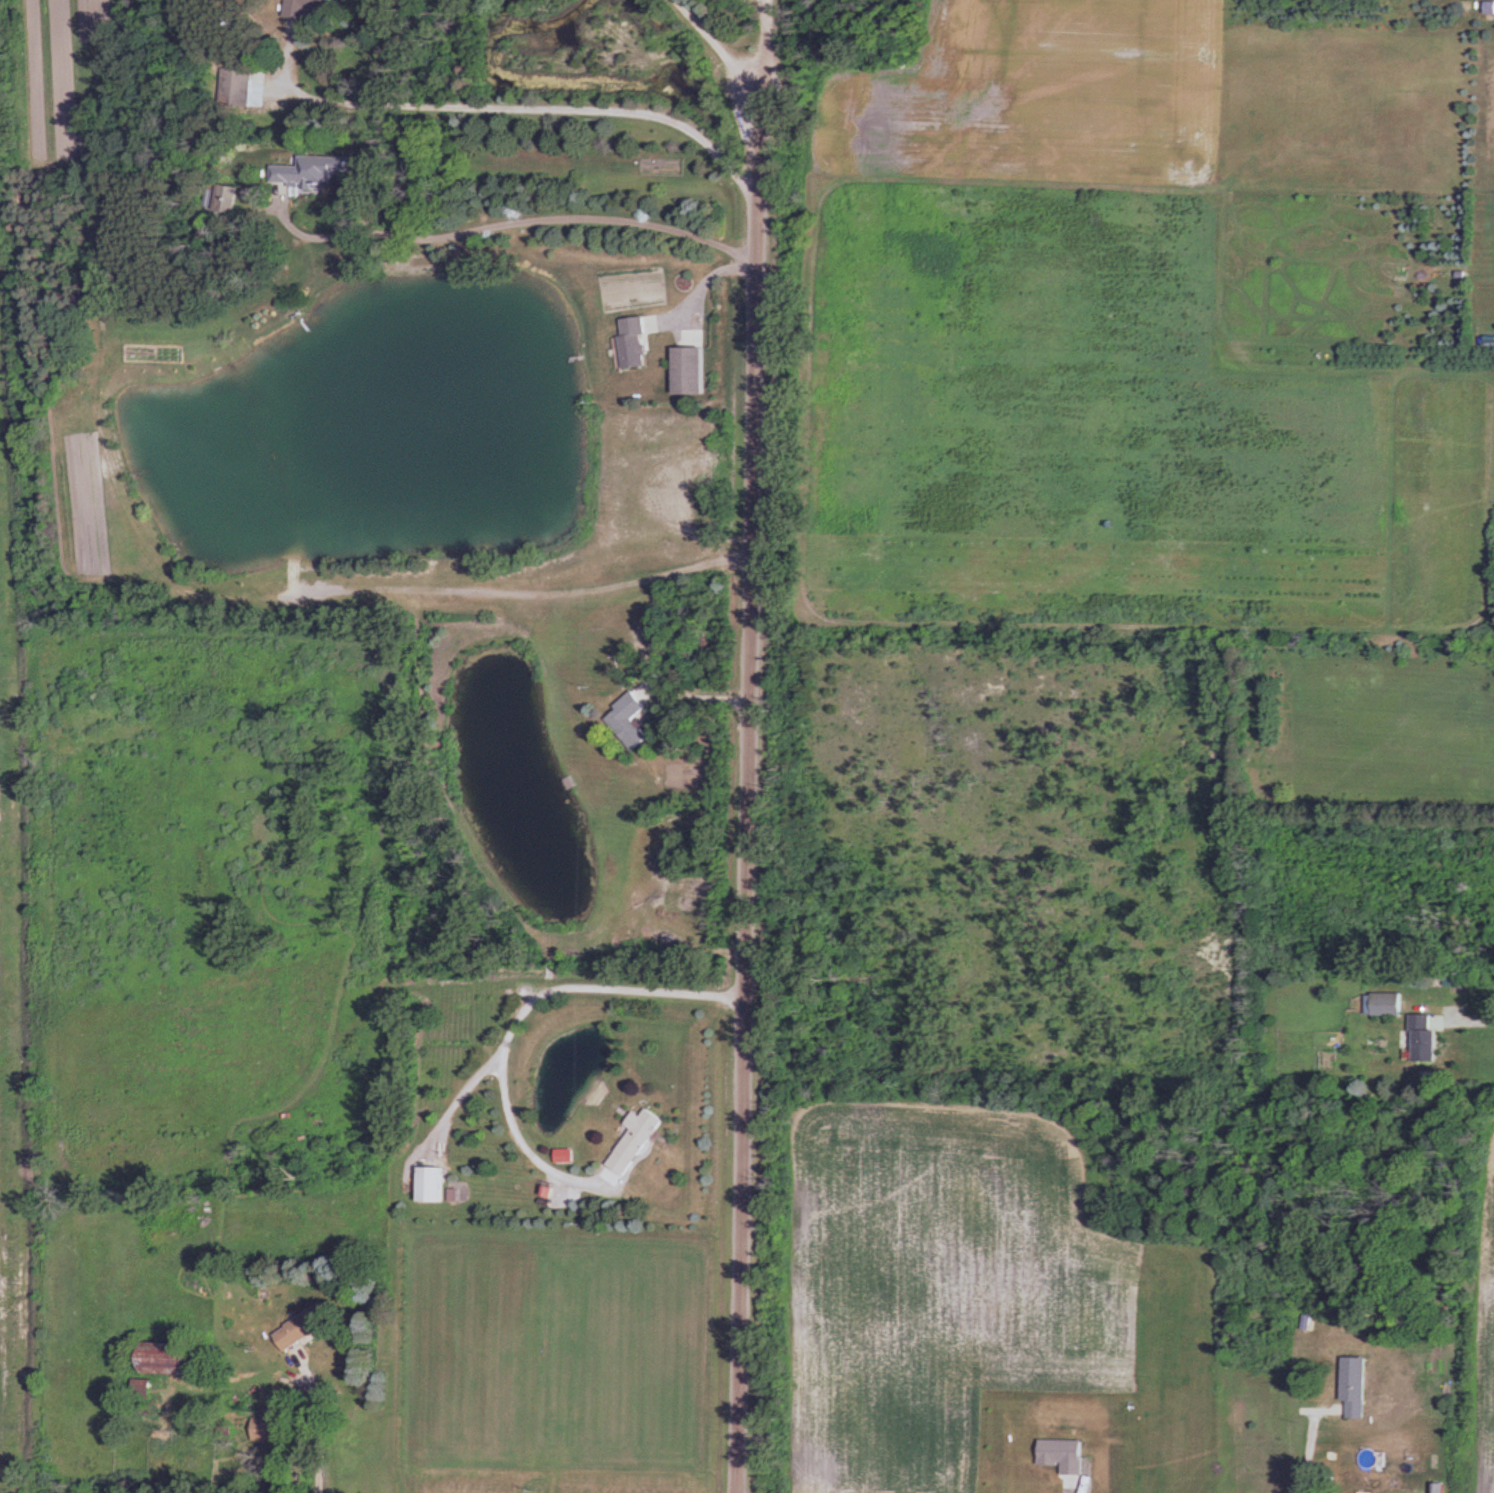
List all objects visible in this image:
building: (316, 4)
road: (716, 47)
building: (240, 88)
crop: (1036, 98)
road: (542, 111)
building: (311, 173)
road: (514, 221)
road: (711, 275)
building: (642, 341)
building: (698, 370)
road: (548, 592)
building: (630, 728)
road: (747, 793)
building: (1390, 1004)
road: (519, 1013)
road: (1472, 1018)
building: (1427, 1032)
road: (458, 1097)
building: (637, 1140)
building: (434, 1184)
crop: (984, 1314)
crop: (1484, 1316)
building: (307, 1327)
building: (175, 1359)
building: (1358, 1387)
road: (312, 1420)
building: (269, 1431)
road: (1303, 1443)
building: (1436, 1488)

